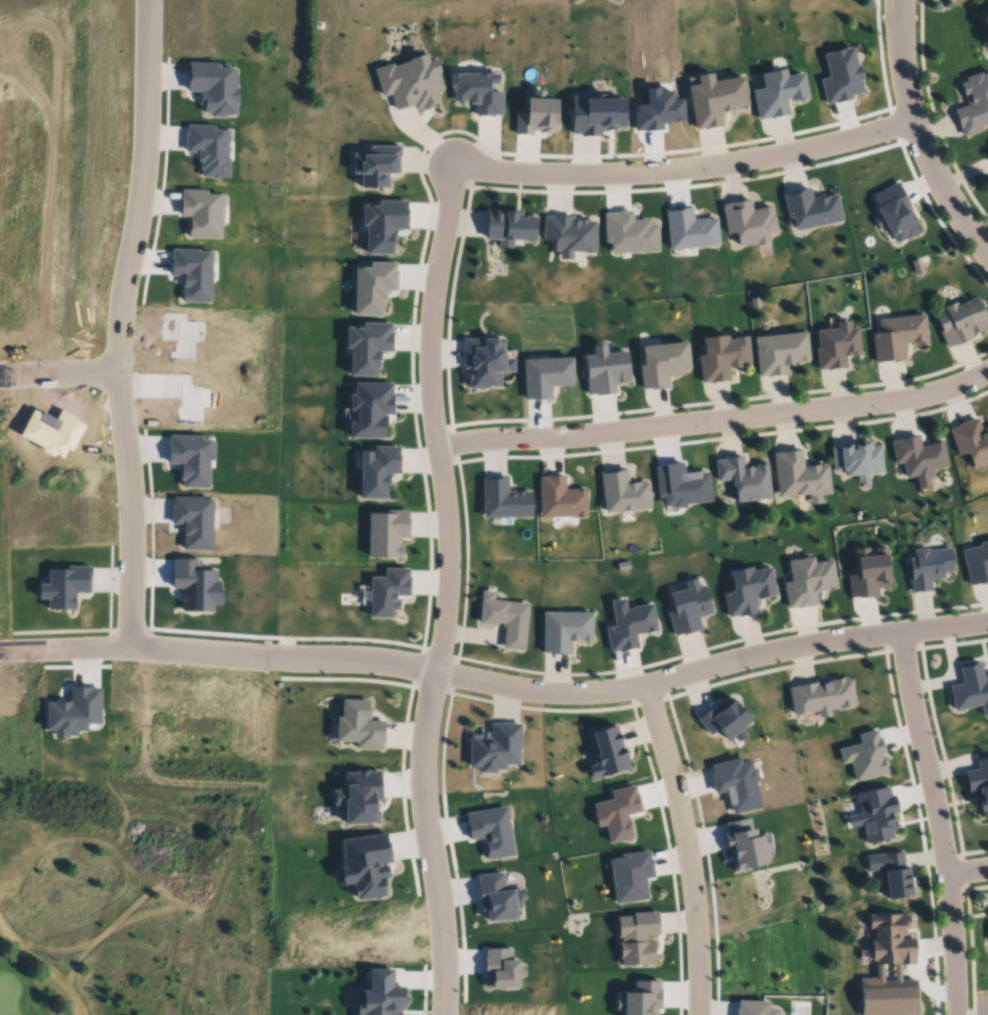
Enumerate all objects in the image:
building: (842, 75)
building: (410, 81)
building: (213, 85)
building: (476, 90)
building: (778, 91)
building: (715, 97)
building: (972, 102)
building: (657, 109)
building: (535, 113)
building: (595, 113)
road: (922, 132)
building: (1, 138)
building: (209, 148)
building: (374, 163)
road: (689, 168)
building: (810, 207)
building: (202, 211)
building: (896, 211)
building: (748, 221)
building: (382, 223)
building: (509, 226)
building: (690, 229)
building: (629, 232)
building: (568, 234)
power tower: (290, 247)
building: (193, 272)
building: (372, 286)
building: (962, 320)
road: (121, 324)
building: (181, 336)
building: (898, 336)
building: (835, 345)
building: (366, 346)
building: (779, 352)
building: (722, 357)
building: (485, 361)
building: (663, 364)
building: (605, 370)
building: (544, 376)
road: (60, 380)
building: (184, 395)
building: (369, 409)
road: (715, 420)
building: (51, 432)
building: (971, 441)
building: (918, 457)
building: (191, 459)
building: (858, 460)
building: (377, 469)
building: (801, 477)
building: (745, 478)
building: (681, 485)
building: (621, 492)
building: (559, 498)
building: (503, 500)
building: (194, 522)
building: (386, 532)
building: (976, 563)
building: (928, 566)
building: (870, 573)
building: (808, 582)
building: (196, 585)
building: (65, 587)
building: (749, 590)
building: (387, 591)
road: (449, 591)
building: (688, 608)
building: (504, 619)
building: (629, 626)
building: (563, 631)
road: (200, 651)
road: (65, 652)
road: (630, 690)
building: (970, 690)
power tower: (281, 694)
building: (822, 697)
building: (73, 712)
building: (725, 720)
building: (358, 726)
building: (495, 749)
building: (607, 753)
building: (865, 757)
building: (735, 785)
building: (978, 787)
building: (358, 798)
building: (876, 814)
building: (617, 815)
road: (942, 824)
building: (491, 832)
building: (746, 846)
road: (686, 849)
building: (364, 866)
building: (892, 873)
road: (970, 876)
building: (630, 877)
building: (497, 899)
park: (133, 909)
building: (377, 936)
building: (637, 939)
building: (888, 965)
building: (501, 970)
park: (8, 996)
building: (381, 996)
building: (643, 999)
building: (754, 1009)

